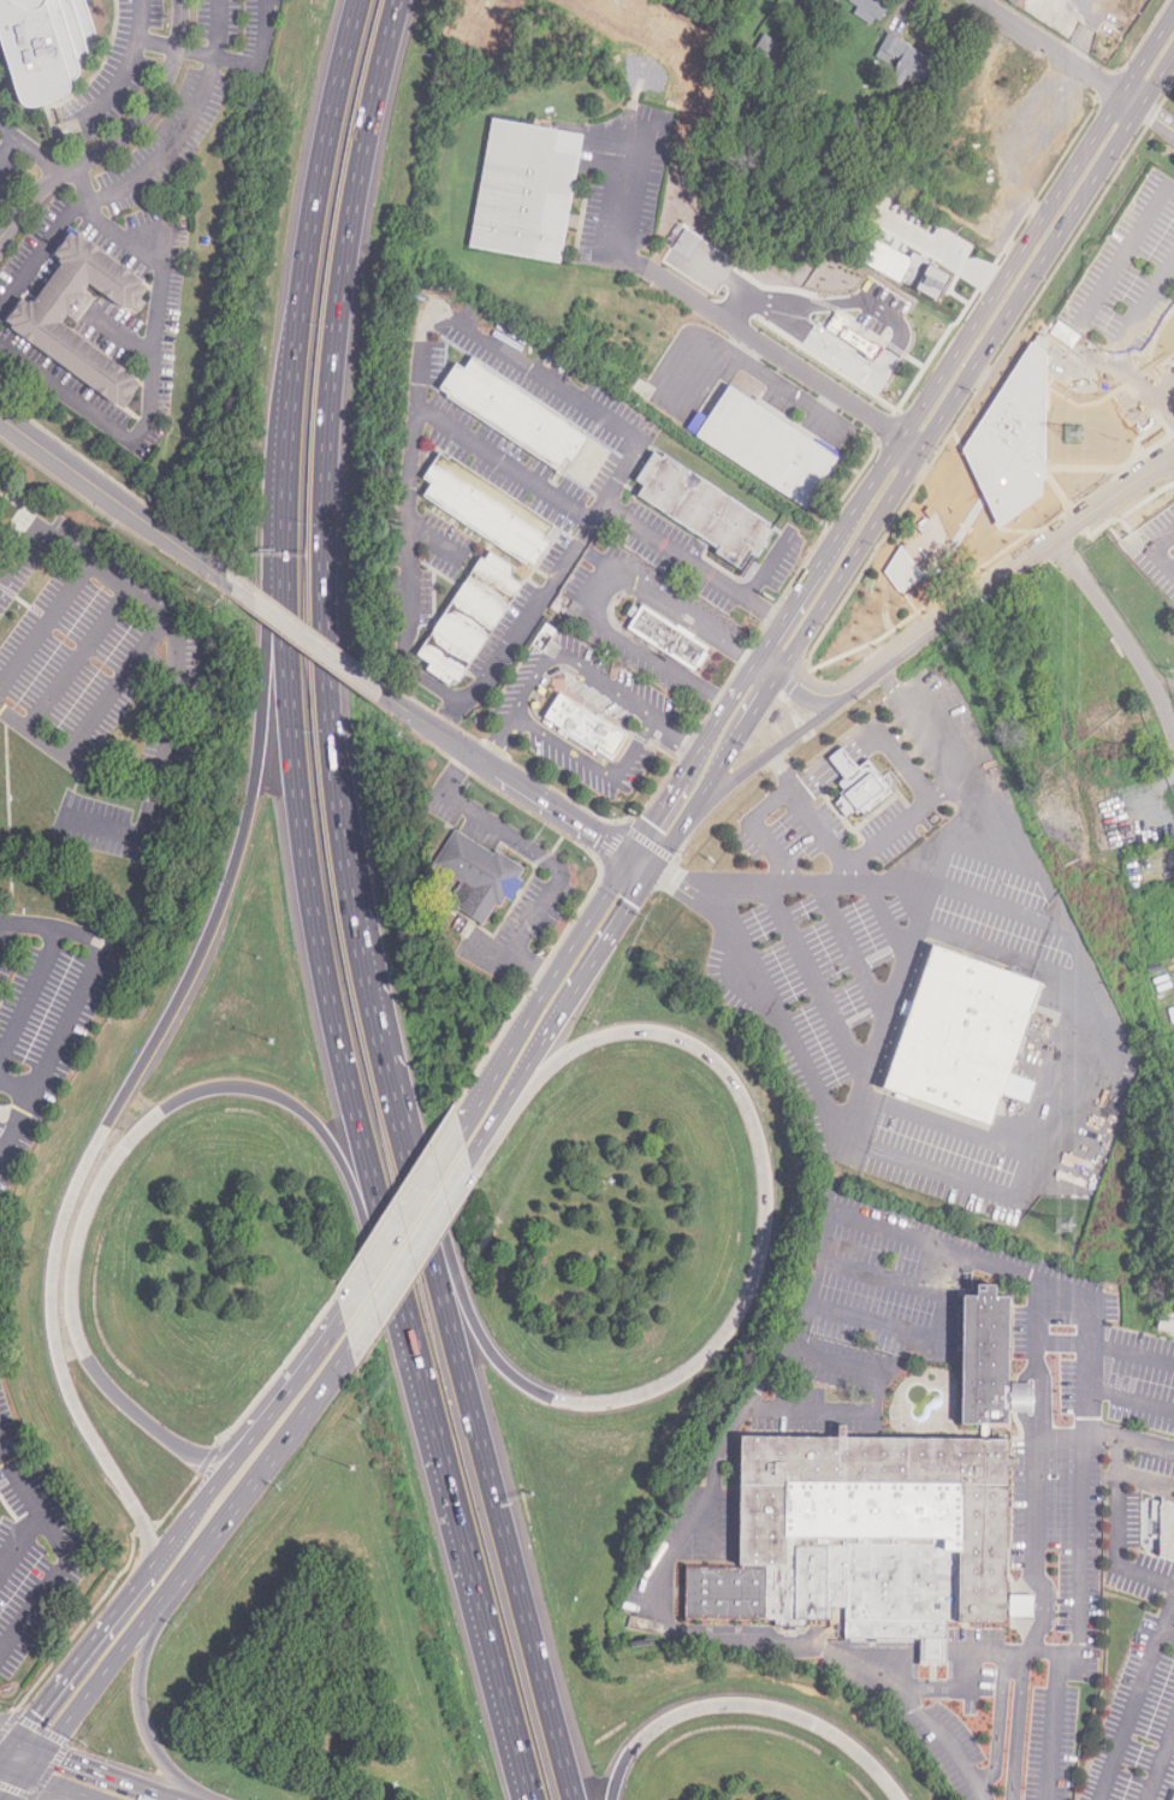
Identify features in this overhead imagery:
building: (1016, 1)
building: (872, 7)
road: (218, 29)
road: (1086, 30)
building: (40, 46)
road: (1056, 52)
building: (905, 59)
road: (230, 61)
building: (764, 66)
road: (121, 75)
road: (150, 102)
road: (7, 146)
road: (32, 147)
road: (324, 149)
road: (156, 159)
building: (527, 191)
road: (29, 199)
road: (81, 200)
road: (625, 203)
road: (37, 257)
building: (906, 267)
road: (724, 276)
road: (1111, 278)
road: (841, 302)
building: (79, 312)
road: (968, 327)
road: (123, 334)
building: (859, 342)
road: (816, 343)
road: (1122, 343)
road: (977, 357)
road: (782, 359)
road: (150, 384)
building: (516, 411)
road: (290, 428)
power tower: (1071, 434)
building: (766, 444)
road: (503, 455)
road: (111, 496)
building: (488, 508)
building: (707, 510)
road: (1145, 544)
road: (769, 563)
road: (325, 575)
road: (1004, 575)
road: (403, 588)
road: (595, 588)
building: (472, 618)
road: (46, 620)
road: (1120, 633)
road: (302, 638)
building: (672, 638)
road: (82, 655)
road: (182, 677)
road: (795, 680)
road: (118, 681)
road: (757, 697)
road: (718, 712)
building: (586, 724)
road: (677, 728)
road: (933, 738)
road: (500, 739)
road: (769, 748)
road: (828, 751)
road: (895, 759)
road: (716, 763)
road: (597, 765)
road: (503, 776)
building: (858, 782)
road: (808, 805)
road: (651, 815)
traffic signals: (648, 819)
road: (894, 824)
road: (757, 825)
road: (130, 829)
road: (674, 834)
traffic signals: (598, 837)
road: (950, 843)
road: (527, 845)
road: (555, 846)
road: (638, 863)
building: (479, 875)
traffic signals: (674, 878)
road: (591, 889)
road: (991, 900)
traffic signals: (632, 902)
road: (887, 918)
road: (1065, 923)
road: (5, 931)
road: (321, 943)
road: (853, 947)
road: (512, 953)
road: (1004, 957)
road: (559, 960)
road: (587, 972)
road: (816, 981)
road: (30, 995)
road: (891, 997)
road: (73, 1003)
building: (965, 1036)
street lamp: (271, 1040)
road: (141, 1068)
road: (19, 1082)
road: (479, 1096)
road: (497, 1118)
road: (953, 1126)
road: (124, 1145)
street lamp: (609, 1179)
road: (1002, 1185)
road: (396, 1200)
road: (402, 1221)
power tower: (1061, 1226)
road: (410, 1255)
road: (1087, 1295)
road: (945, 1321)
building: (1167, 1321)
road: (727, 1332)
road: (1063, 1344)
road: (1132, 1354)
building: (985, 1357)
road: (278, 1372)
road: (1027, 1372)
road: (300, 1374)
road: (1107, 1393)
road: (1022, 1397)
road: (737, 1423)
road: (1027, 1423)
road: (208, 1459)
street lamp: (351, 1468)
road: (487, 1475)
road: (1036, 1475)
road: (257, 1480)
road: (204, 1497)
road: (177, 1500)
building: (1168, 1527)
road: (144, 1528)
road: (1114, 1529)
building: (870, 1536)
road: (19, 1539)
road: (60, 1552)
road: (464, 1562)
road: (1025, 1582)
road: (1084, 1589)
road: (1021, 1605)
road: (83, 1622)
road: (1025, 1627)
road: (1169, 1630)
road: (873, 1648)
road: (83, 1650)
road: (933, 1650)
road: (101, 1678)
road: (951, 1689)
road: (1138, 1703)
road: (747, 1705)
traffic signals: (35, 1712)
road: (142, 1713)
road: (998, 1723)
road: (1019, 1725)
road: (1055, 1725)
road: (40, 1728)
road: (8, 1735)
road: (30, 1743)
road: (8, 1748)
road: (34, 1760)
traffic signals: (71, 1760)
road: (12, 1768)
road: (1162, 1768)
road: (112, 1775)
street lamp: (395, 1781)
road: (13, 1786)
road: (59, 1787)
building: (1173, 1799)

